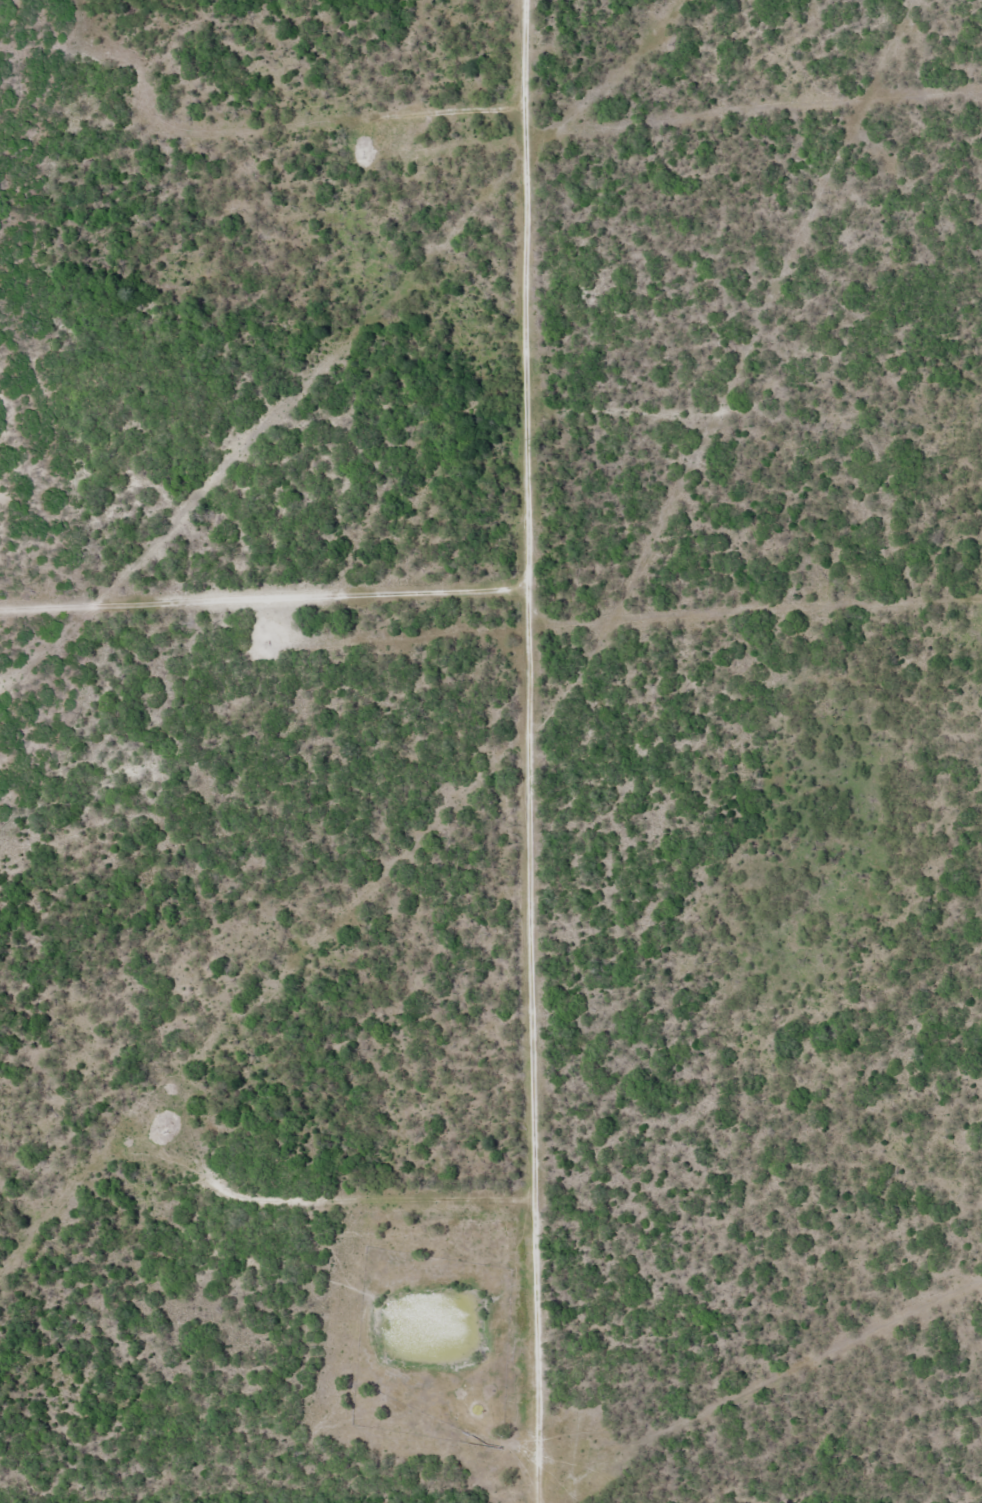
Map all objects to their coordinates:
road: (531, 751)

